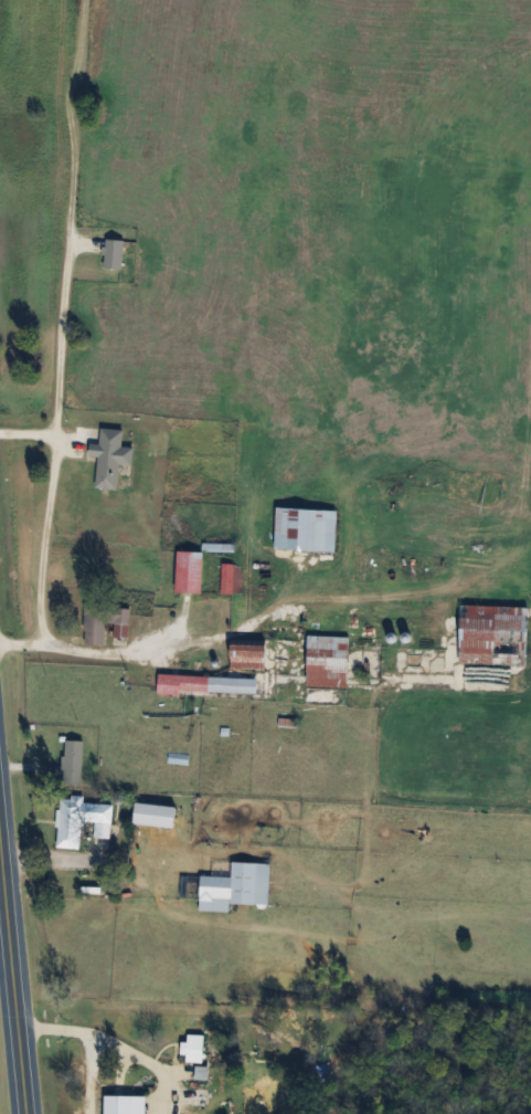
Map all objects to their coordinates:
road: (72, 118)
road: (28, 430)
building: (111, 456)
road: (52, 466)
building: (306, 528)
building: (190, 570)
building: (233, 577)
building: (106, 621)
building: (495, 633)
road: (134, 651)
building: (249, 653)
building: (329, 661)
building: (209, 684)
building: (73, 760)
building: (71, 821)
building: (236, 886)
road: (11, 978)
road: (49, 1029)
building: (194, 1048)
road: (148, 1057)
road: (89, 1071)
building: (127, 1104)

